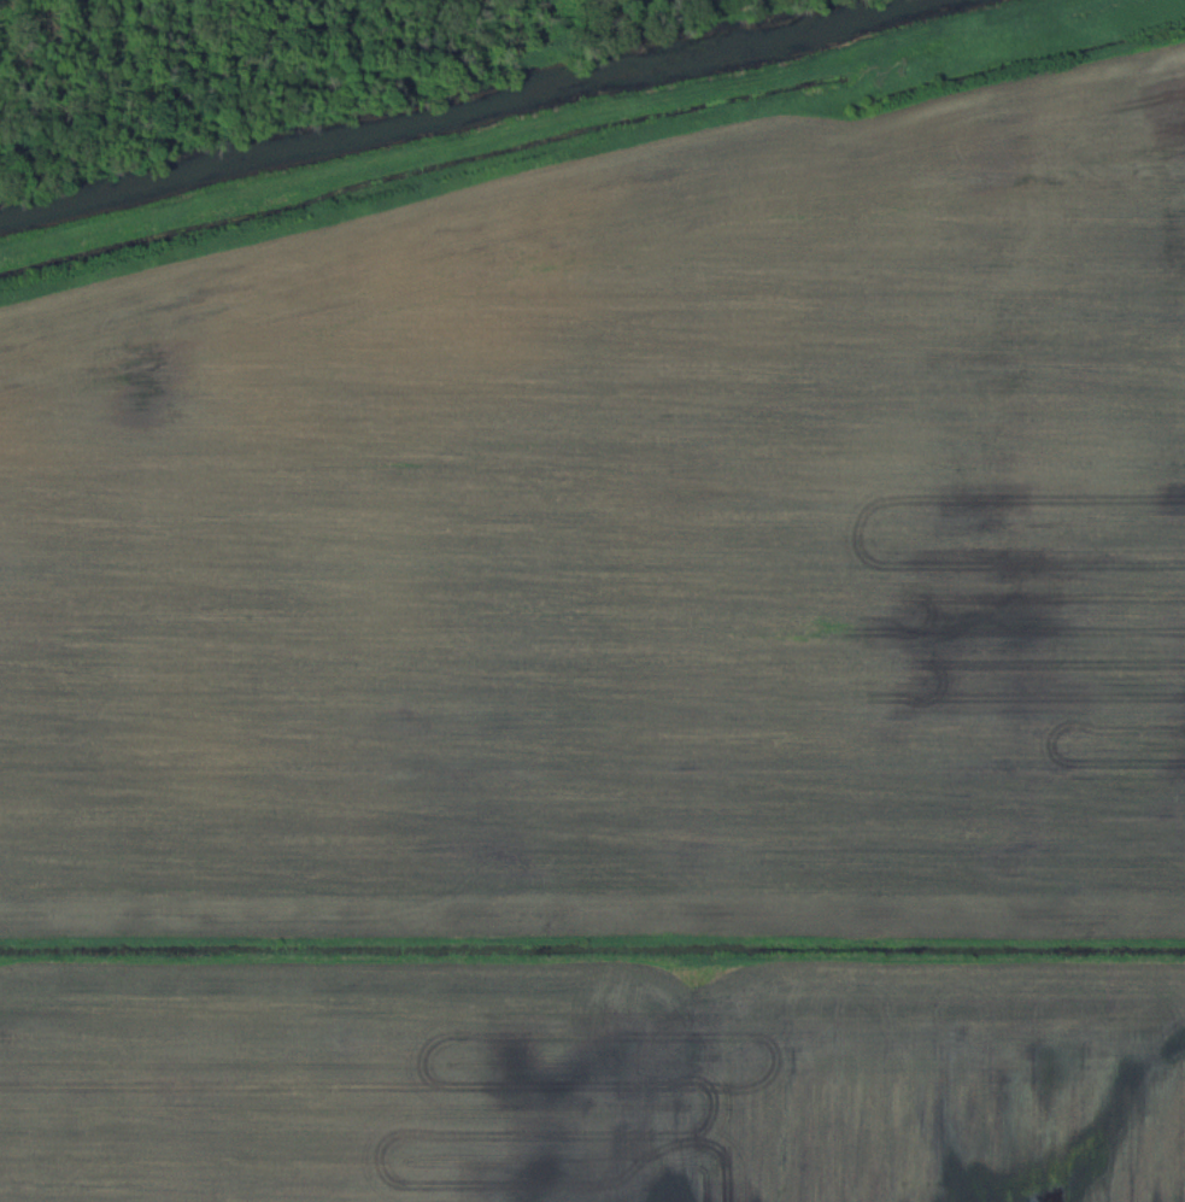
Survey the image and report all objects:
river: (441, 110)

